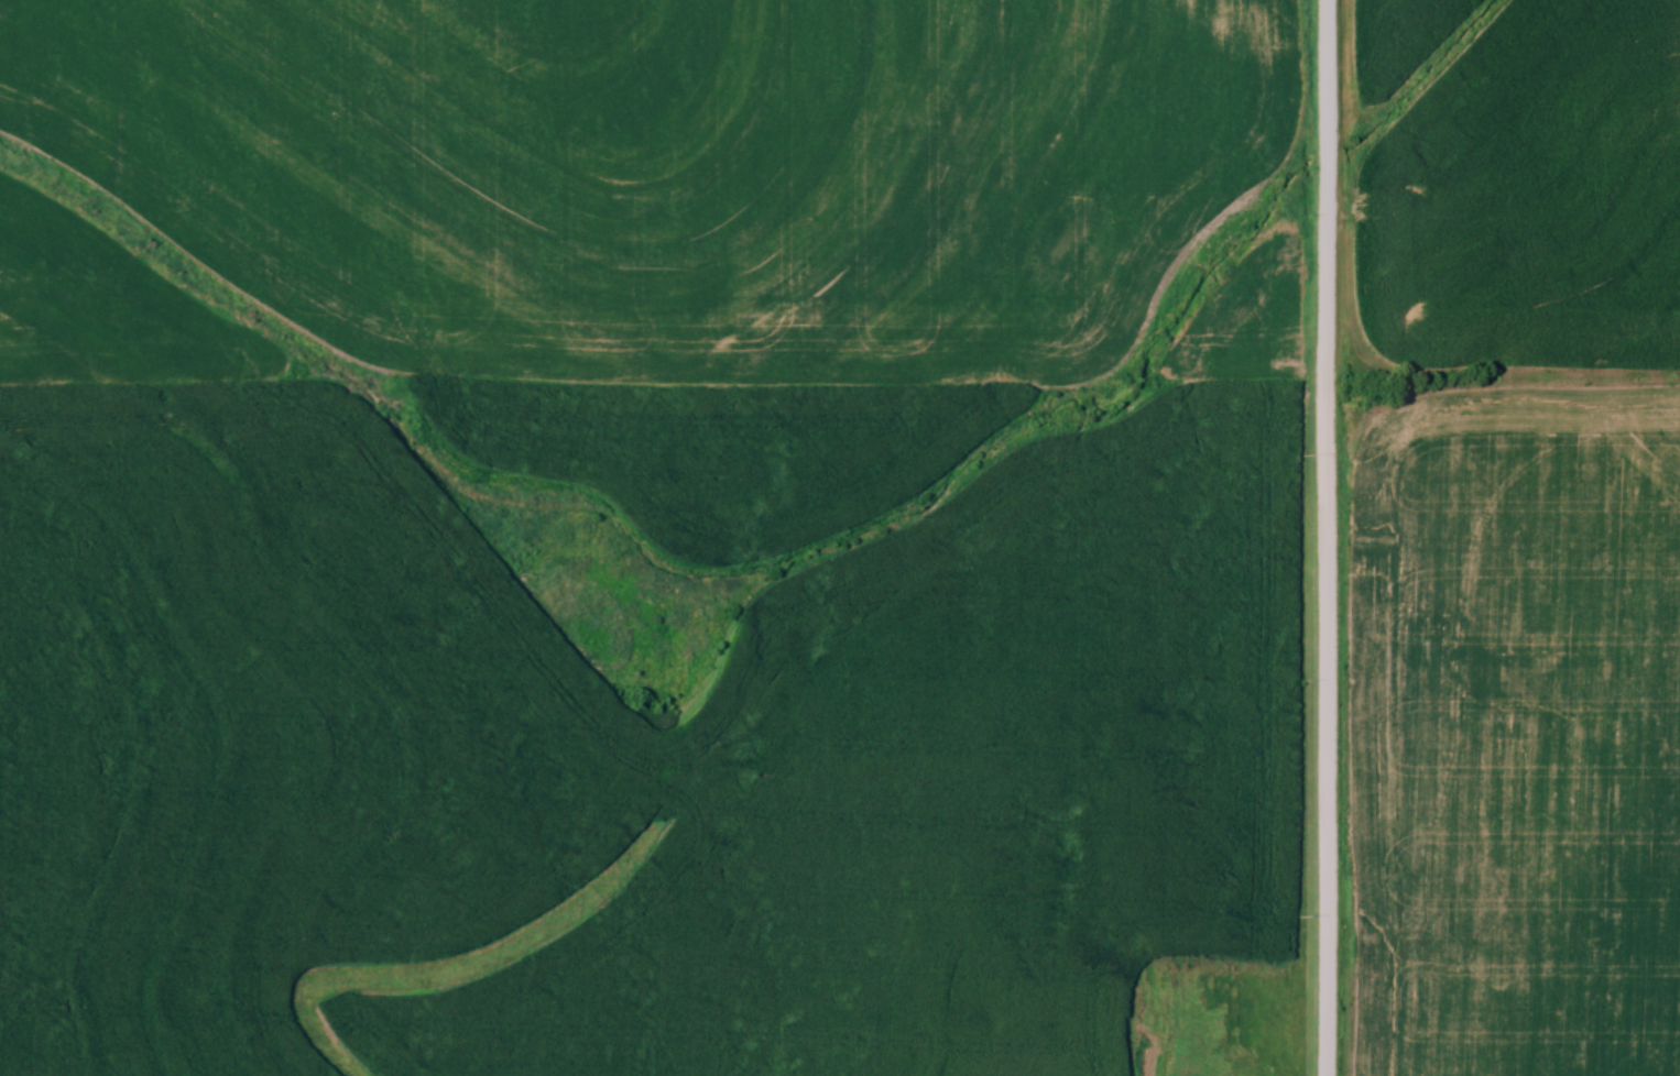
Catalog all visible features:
road: (1326, 538)

